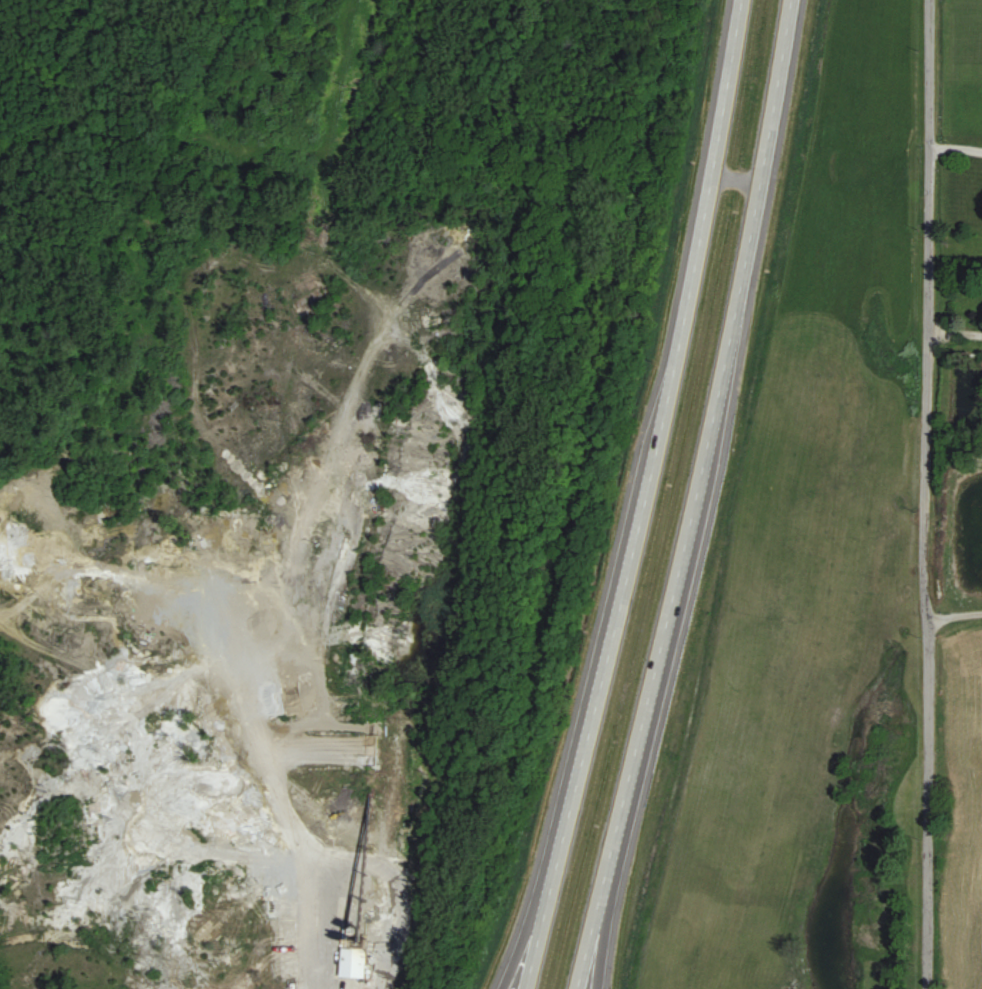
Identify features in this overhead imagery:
road: (954, 145)
road: (924, 494)
road: (642, 497)
road: (695, 497)
road: (952, 611)
road: (602, 932)
road: (520, 952)
building: (354, 957)

